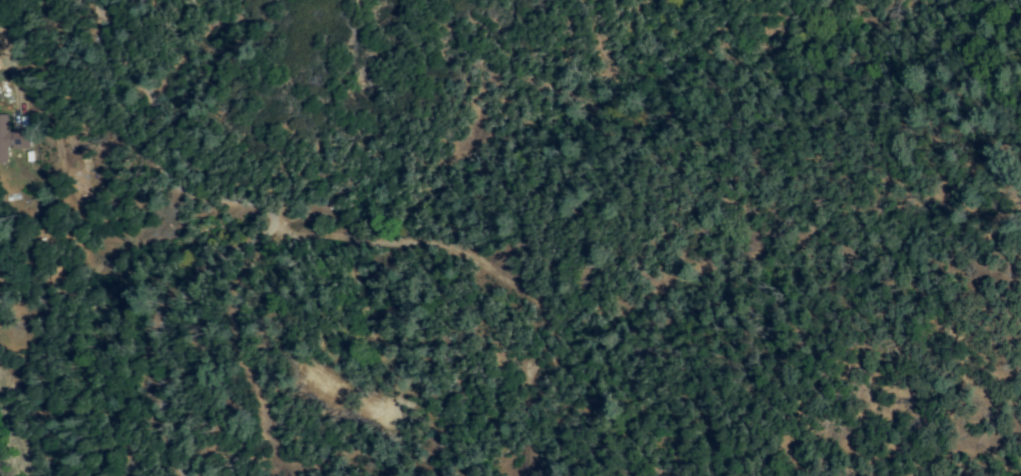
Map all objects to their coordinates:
road: (9, 63)
building: (11, 138)
road: (235, 232)

